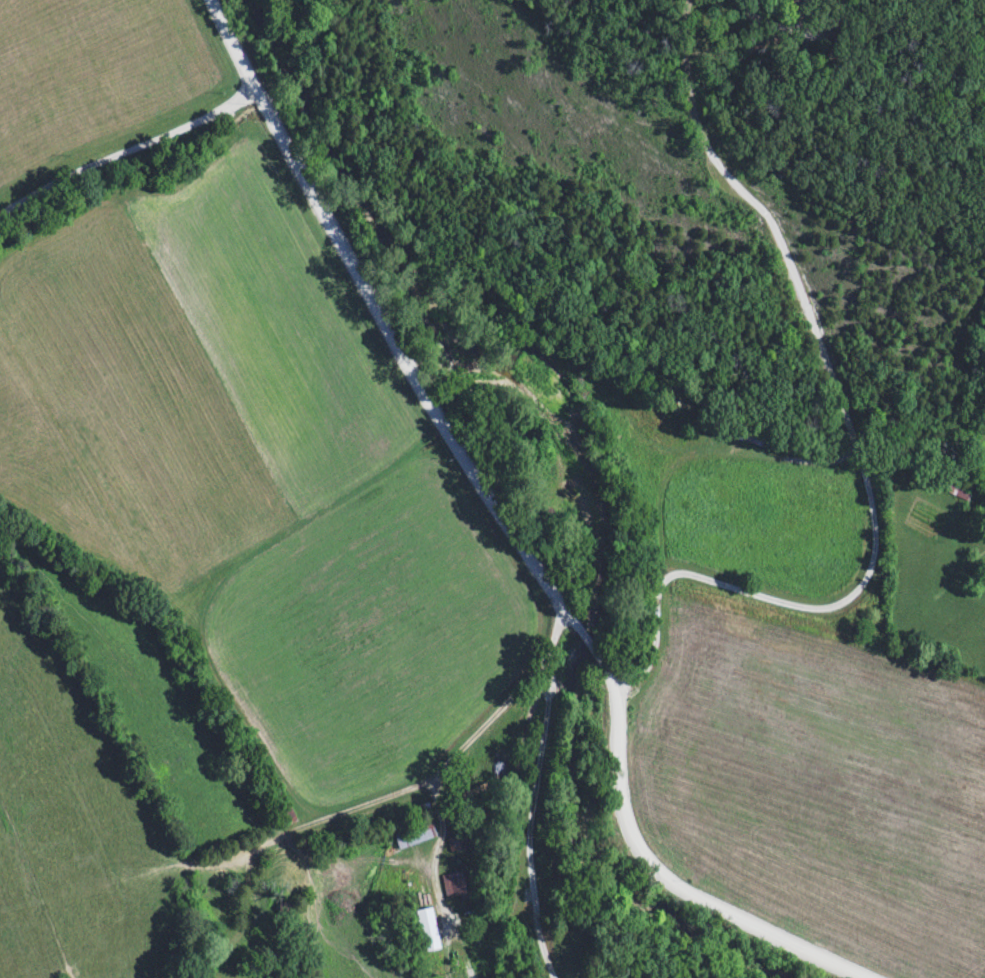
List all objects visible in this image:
road: (128, 148)
building: (753, 437)
road: (859, 447)
road: (517, 534)
road: (539, 785)
road: (403, 791)
building: (412, 836)
road: (435, 858)
building: (454, 885)
building: (426, 930)

